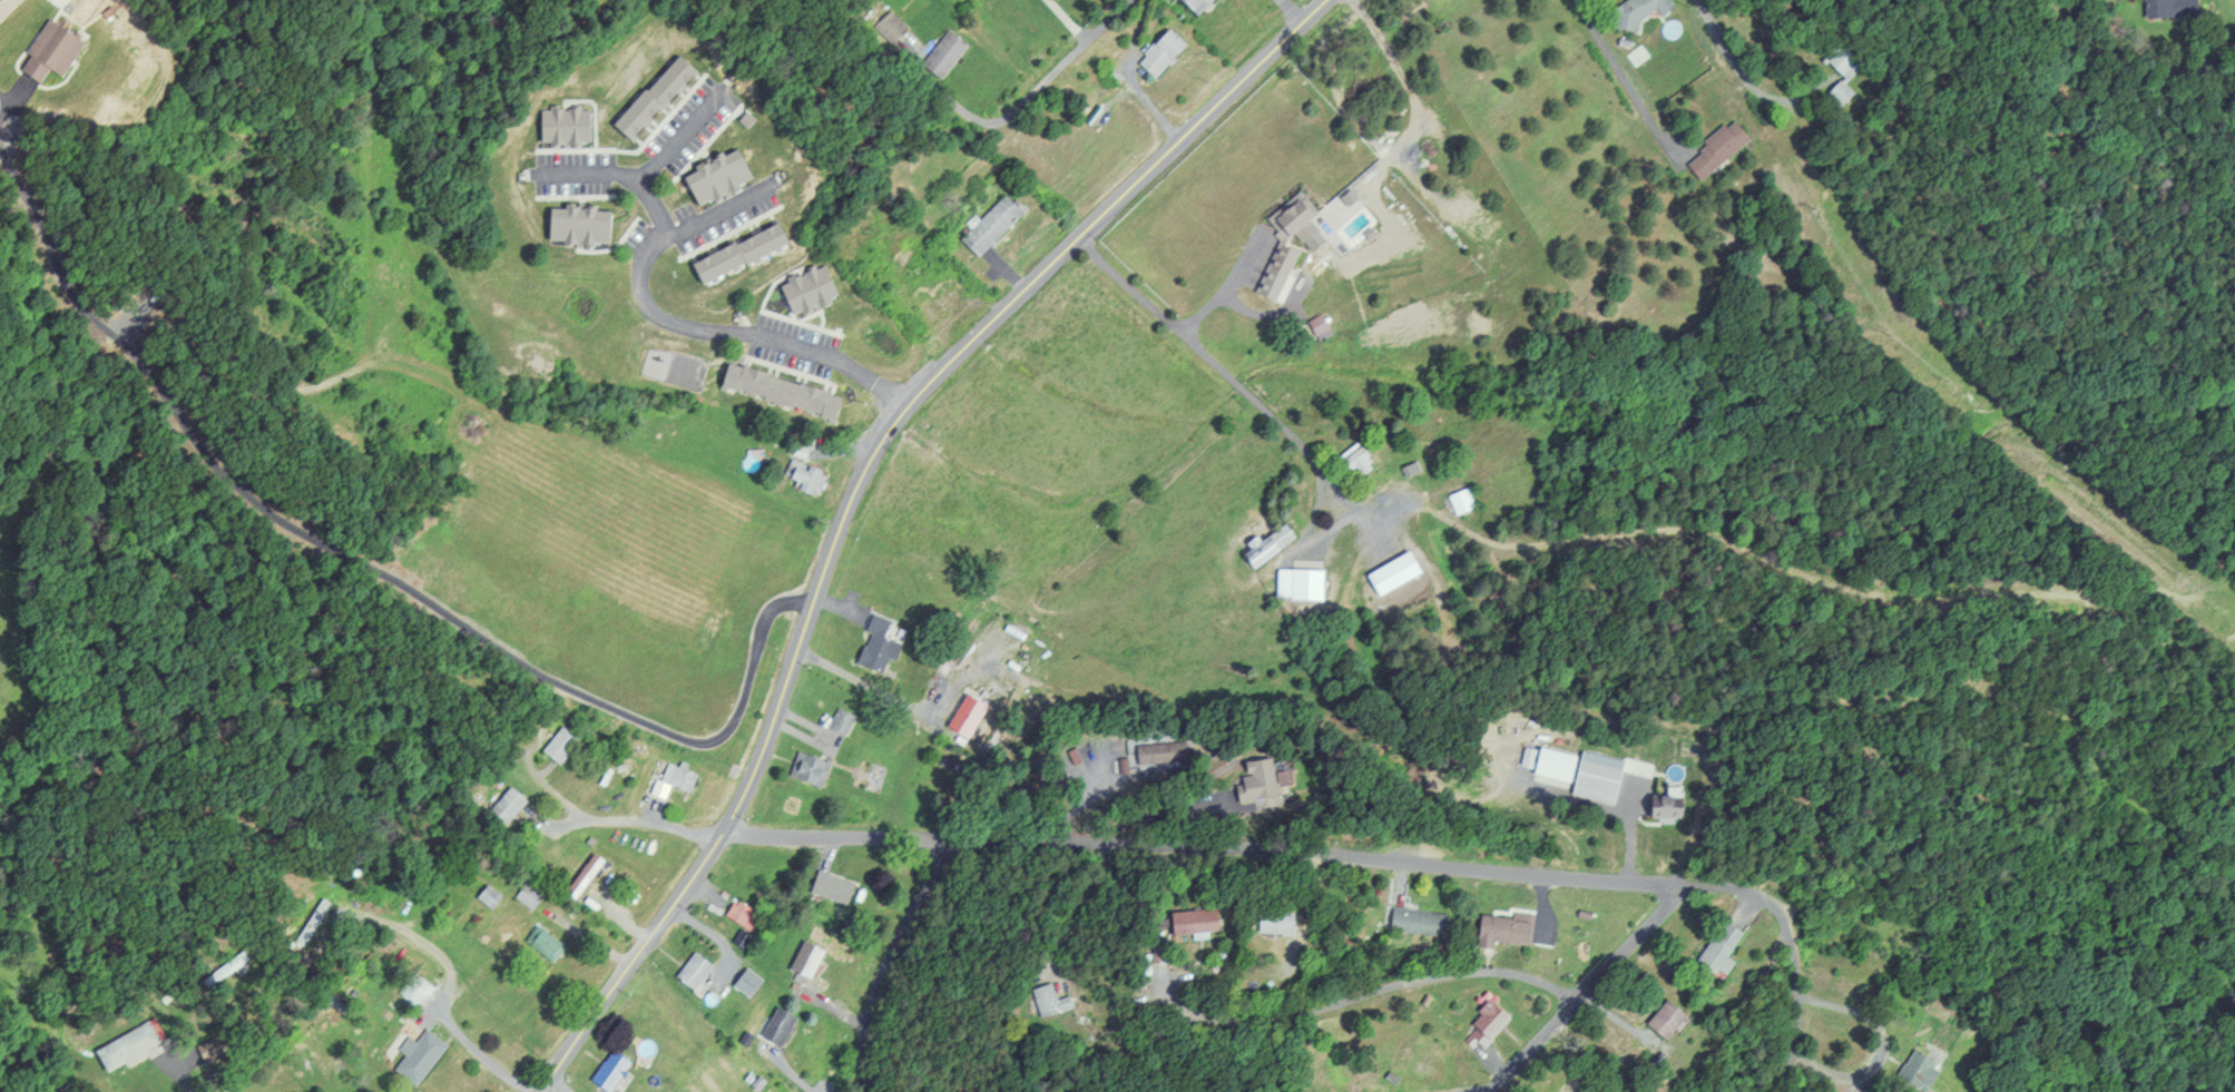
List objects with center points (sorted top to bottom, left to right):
building: (1188, 4)
building: (2168, 9)
building: (1636, 11)
road: (1290, 12)
road: (1065, 20)
building: (888, 26)
building: (941, 52)
building: (43, 53)
building: (1157, 53)
road: (1742, 71)
building: (1842, 71)
road: (1133, 76)
road: (1621, 81)
building: (649, 97)
road: (1019, 102)
building: (560, 126)
road: (677, 134)
building: (1714, 150)
road: (621, 173)
building: (713, 177)
building: (1290, 222)
building: (987, 225)
building: (574, 226)
building: (733, 254)
building: (1281, 262)
building: (804, 289)
building: (941, 295)
road: (677, 326)
building: (1315, 327)
road: (1209, 360)
building: (776, 392)
building: (1353, 460)
building: (803, 480)
road: (853, 488)
building: (1460, 501)
building: (1297, 583)
building: (874, 646)
building: (963, 715)
building: (839, 720)
building: (555, 745)
building: (806, 769)
building: (1575, 771)
building: (670, 778)
building: (503, 805)
building: (1664, 807)
road: (1270, 848)
building: (579, 875)
building: (829, 887)
building: (526, 895)
building: (487, 896)
building: (739, 915)
building: (1185, 921)
building: (1270, 921)
building: (1413, 921)
building: (311, 926)
building: (1499, 931)
building: (542, 944)
building: (1717, 947)
building: (802, 960)
building: (690, 971)
building: (744, 982)
building: (412, 990)
road: (1589, 991)
road: (1362, 993)
building: (1048, 1000)
road: (1734, 1015)
road: (1794, 1017)
building: (1661, 1019)
building: (1483, 1022)
building: (774, 1026)
building: (119, 1050)
building: (415, 1055)
building: (1914, 1068)
building: (606, 1070)
road: (550, 1089)

